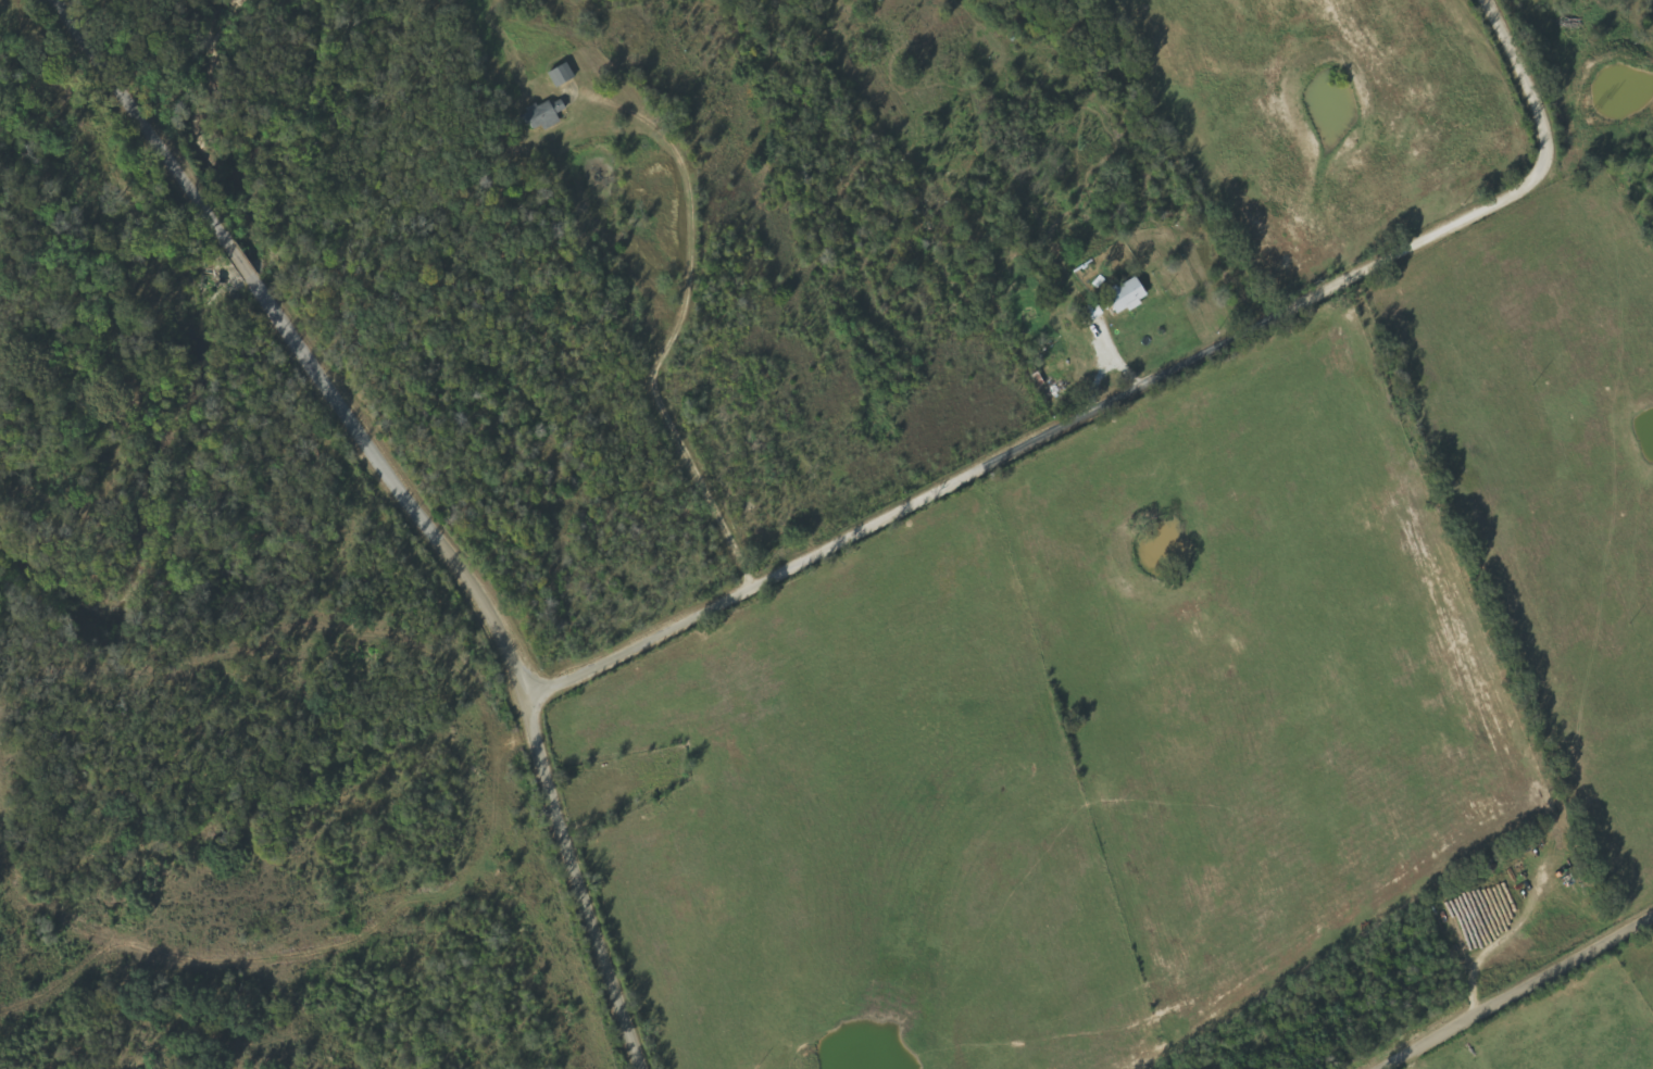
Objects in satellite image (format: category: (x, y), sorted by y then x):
building: (563, 75)
building: (544, 115)
building: (1129, 295)
road: (677, 336)
road: (1125, 398)
road: (406, 504)
road: (1598, 712)
road: (1638, 961)
road: (1518, 994)

